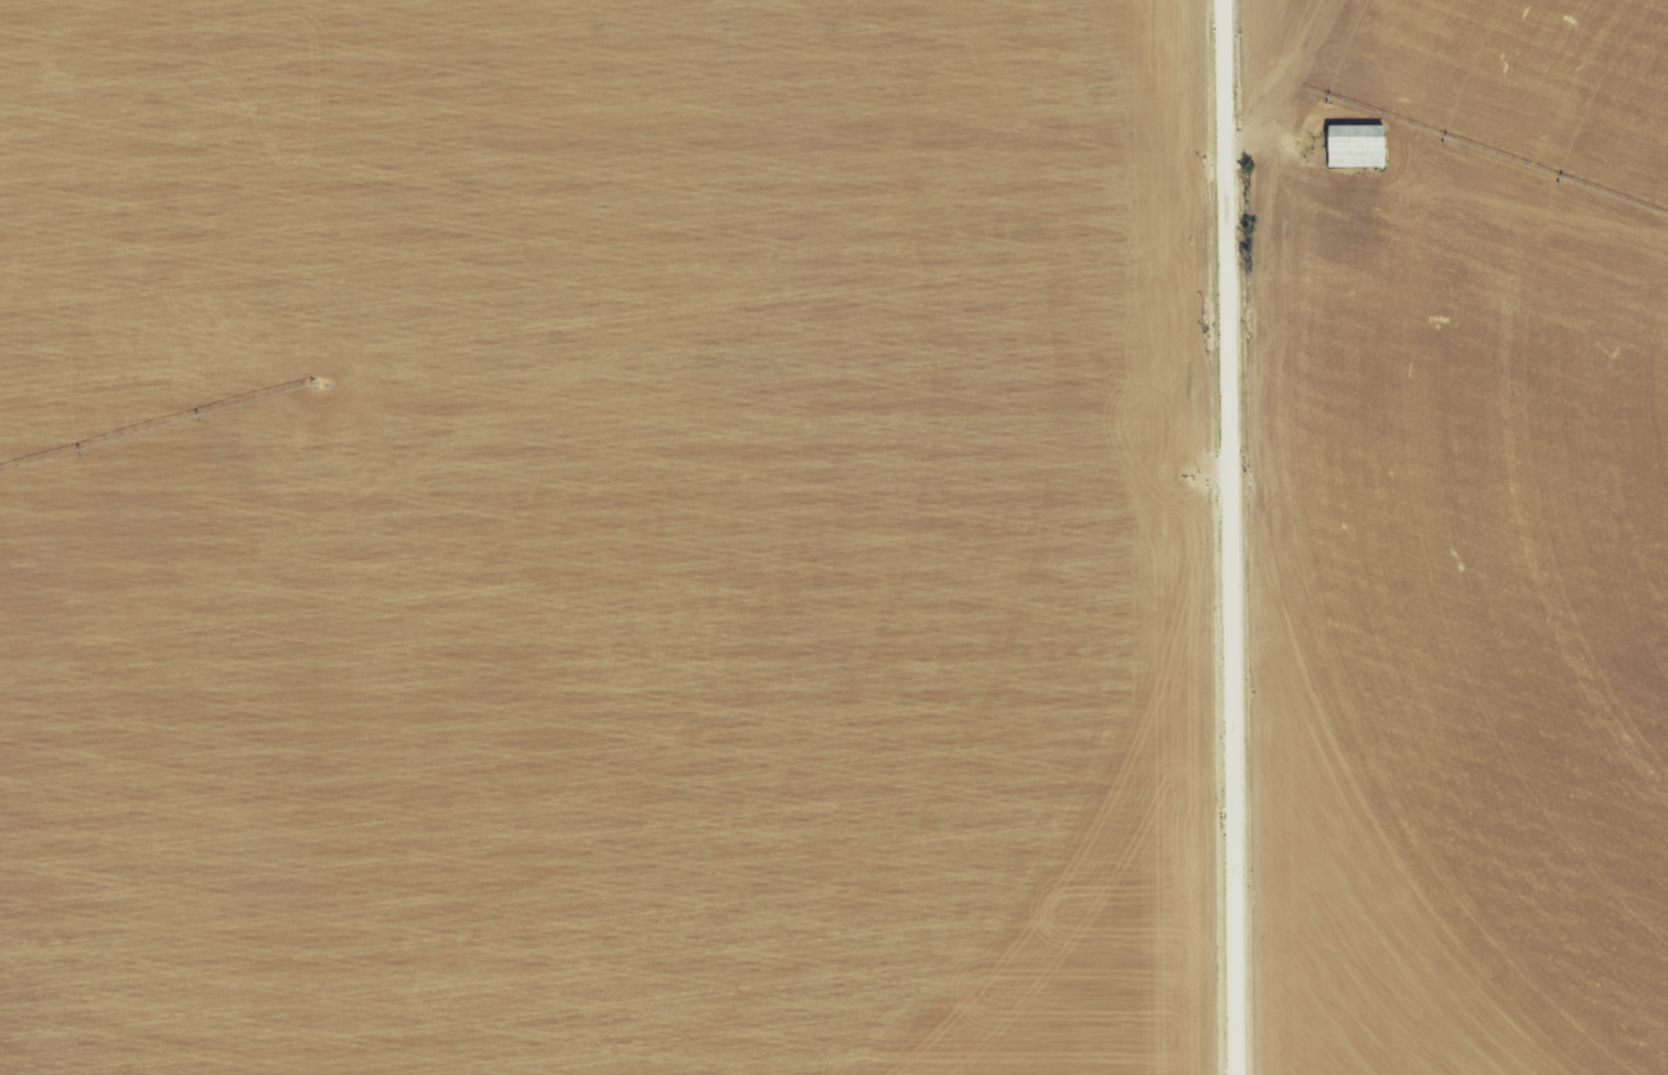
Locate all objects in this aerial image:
road: (1227, 537)

